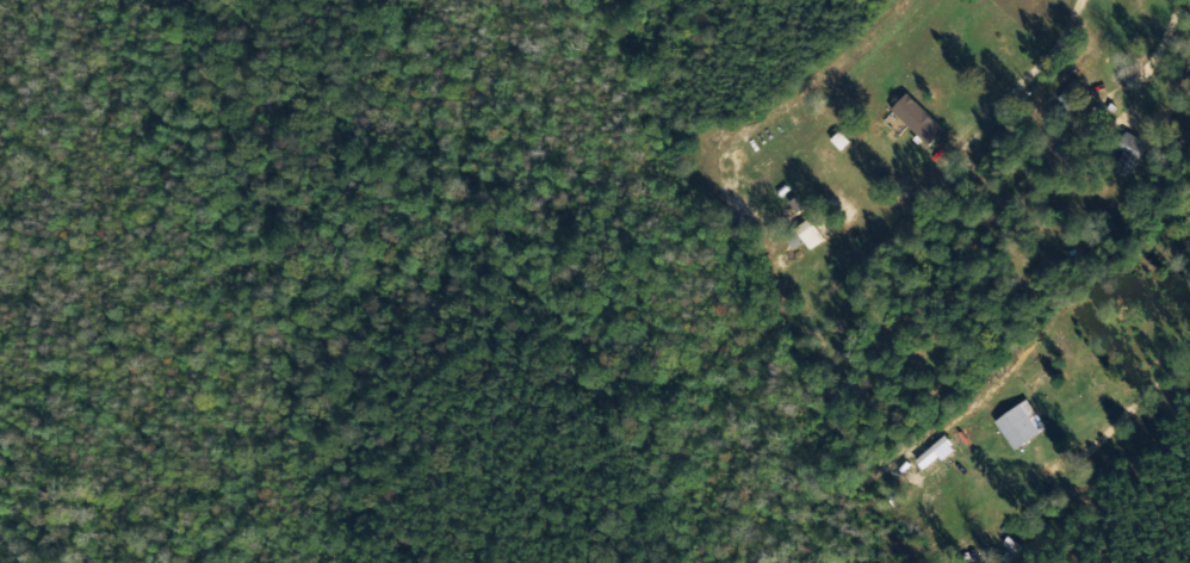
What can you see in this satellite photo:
building: (1066, 101)
building: (915, 119)
building: (1127, 155)
building: (1015, 427)

